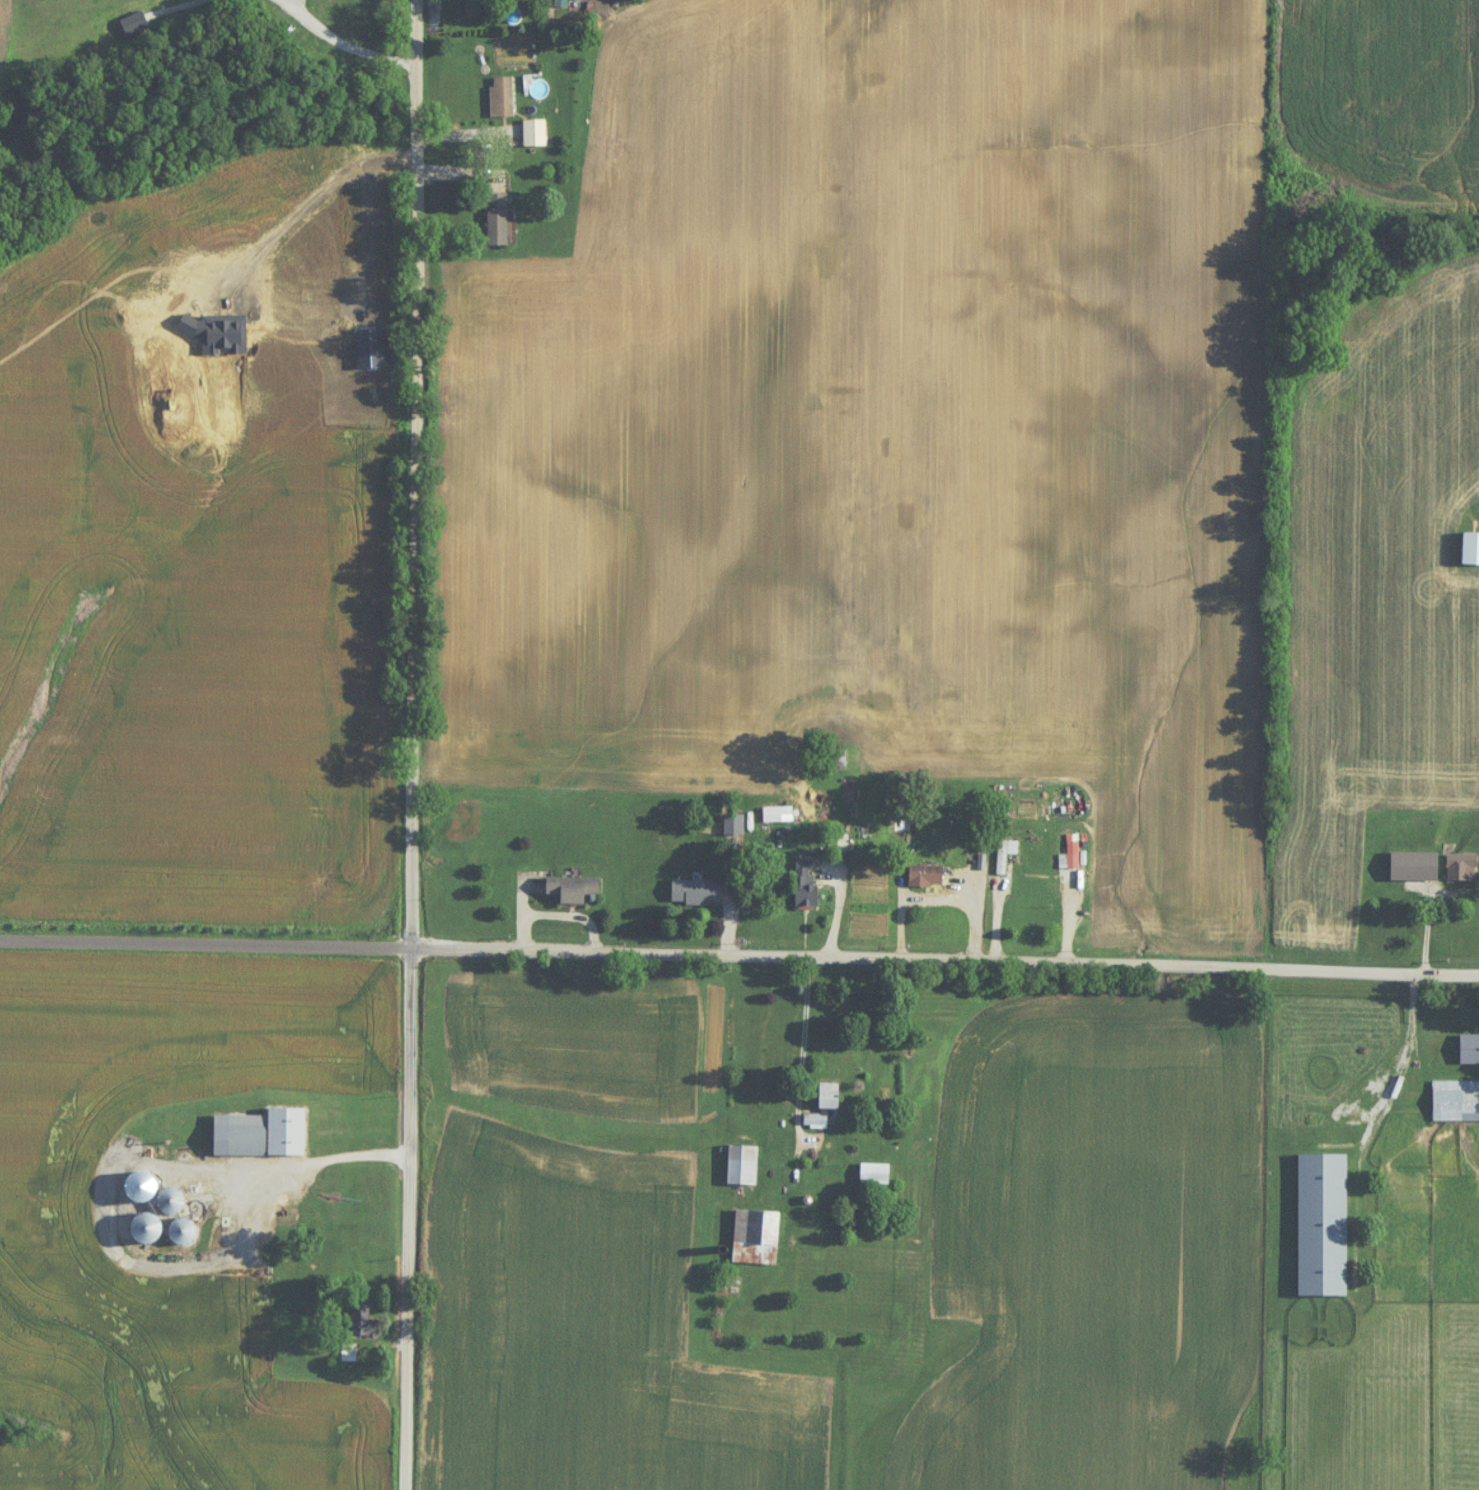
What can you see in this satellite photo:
road: (345, 49)
building: (501, 99)
building: (534, 135)
road: (492, 154)
road: (325, 186)
building: (496, 222)
road: (367, 232)
building: (1470, 551)
road: (409, 744)
building: (839, 763)
building: (777, 816)
building: (733, 827)
building: (1001, 859)
building: (1072, 863)
building: (1461, 869)
building: (925, 878)
building: (805, 886)
building: (572, 891)
building: (696, 893)
road: (732, 901)
road: (1427, 916)
road: (555, 917)
road: (739, 958)
building: (1469, 1051)
road: (1404, 1056)
road: (802, 1079)
building: (1455, 1103)
building: (825, 1110)
building: (286, 1135)
building: (239, 1138)
road: (307, 1162)
building: (742, 1167)
building: (874, 1176)
building: (171, 1202)
building: (343, 1214)
building: (1322, 1227)
building: (146, 1229)
building: (182, 1232)
building: (756, 1239)
building: (363, 1320)
building: (348, 1353)

